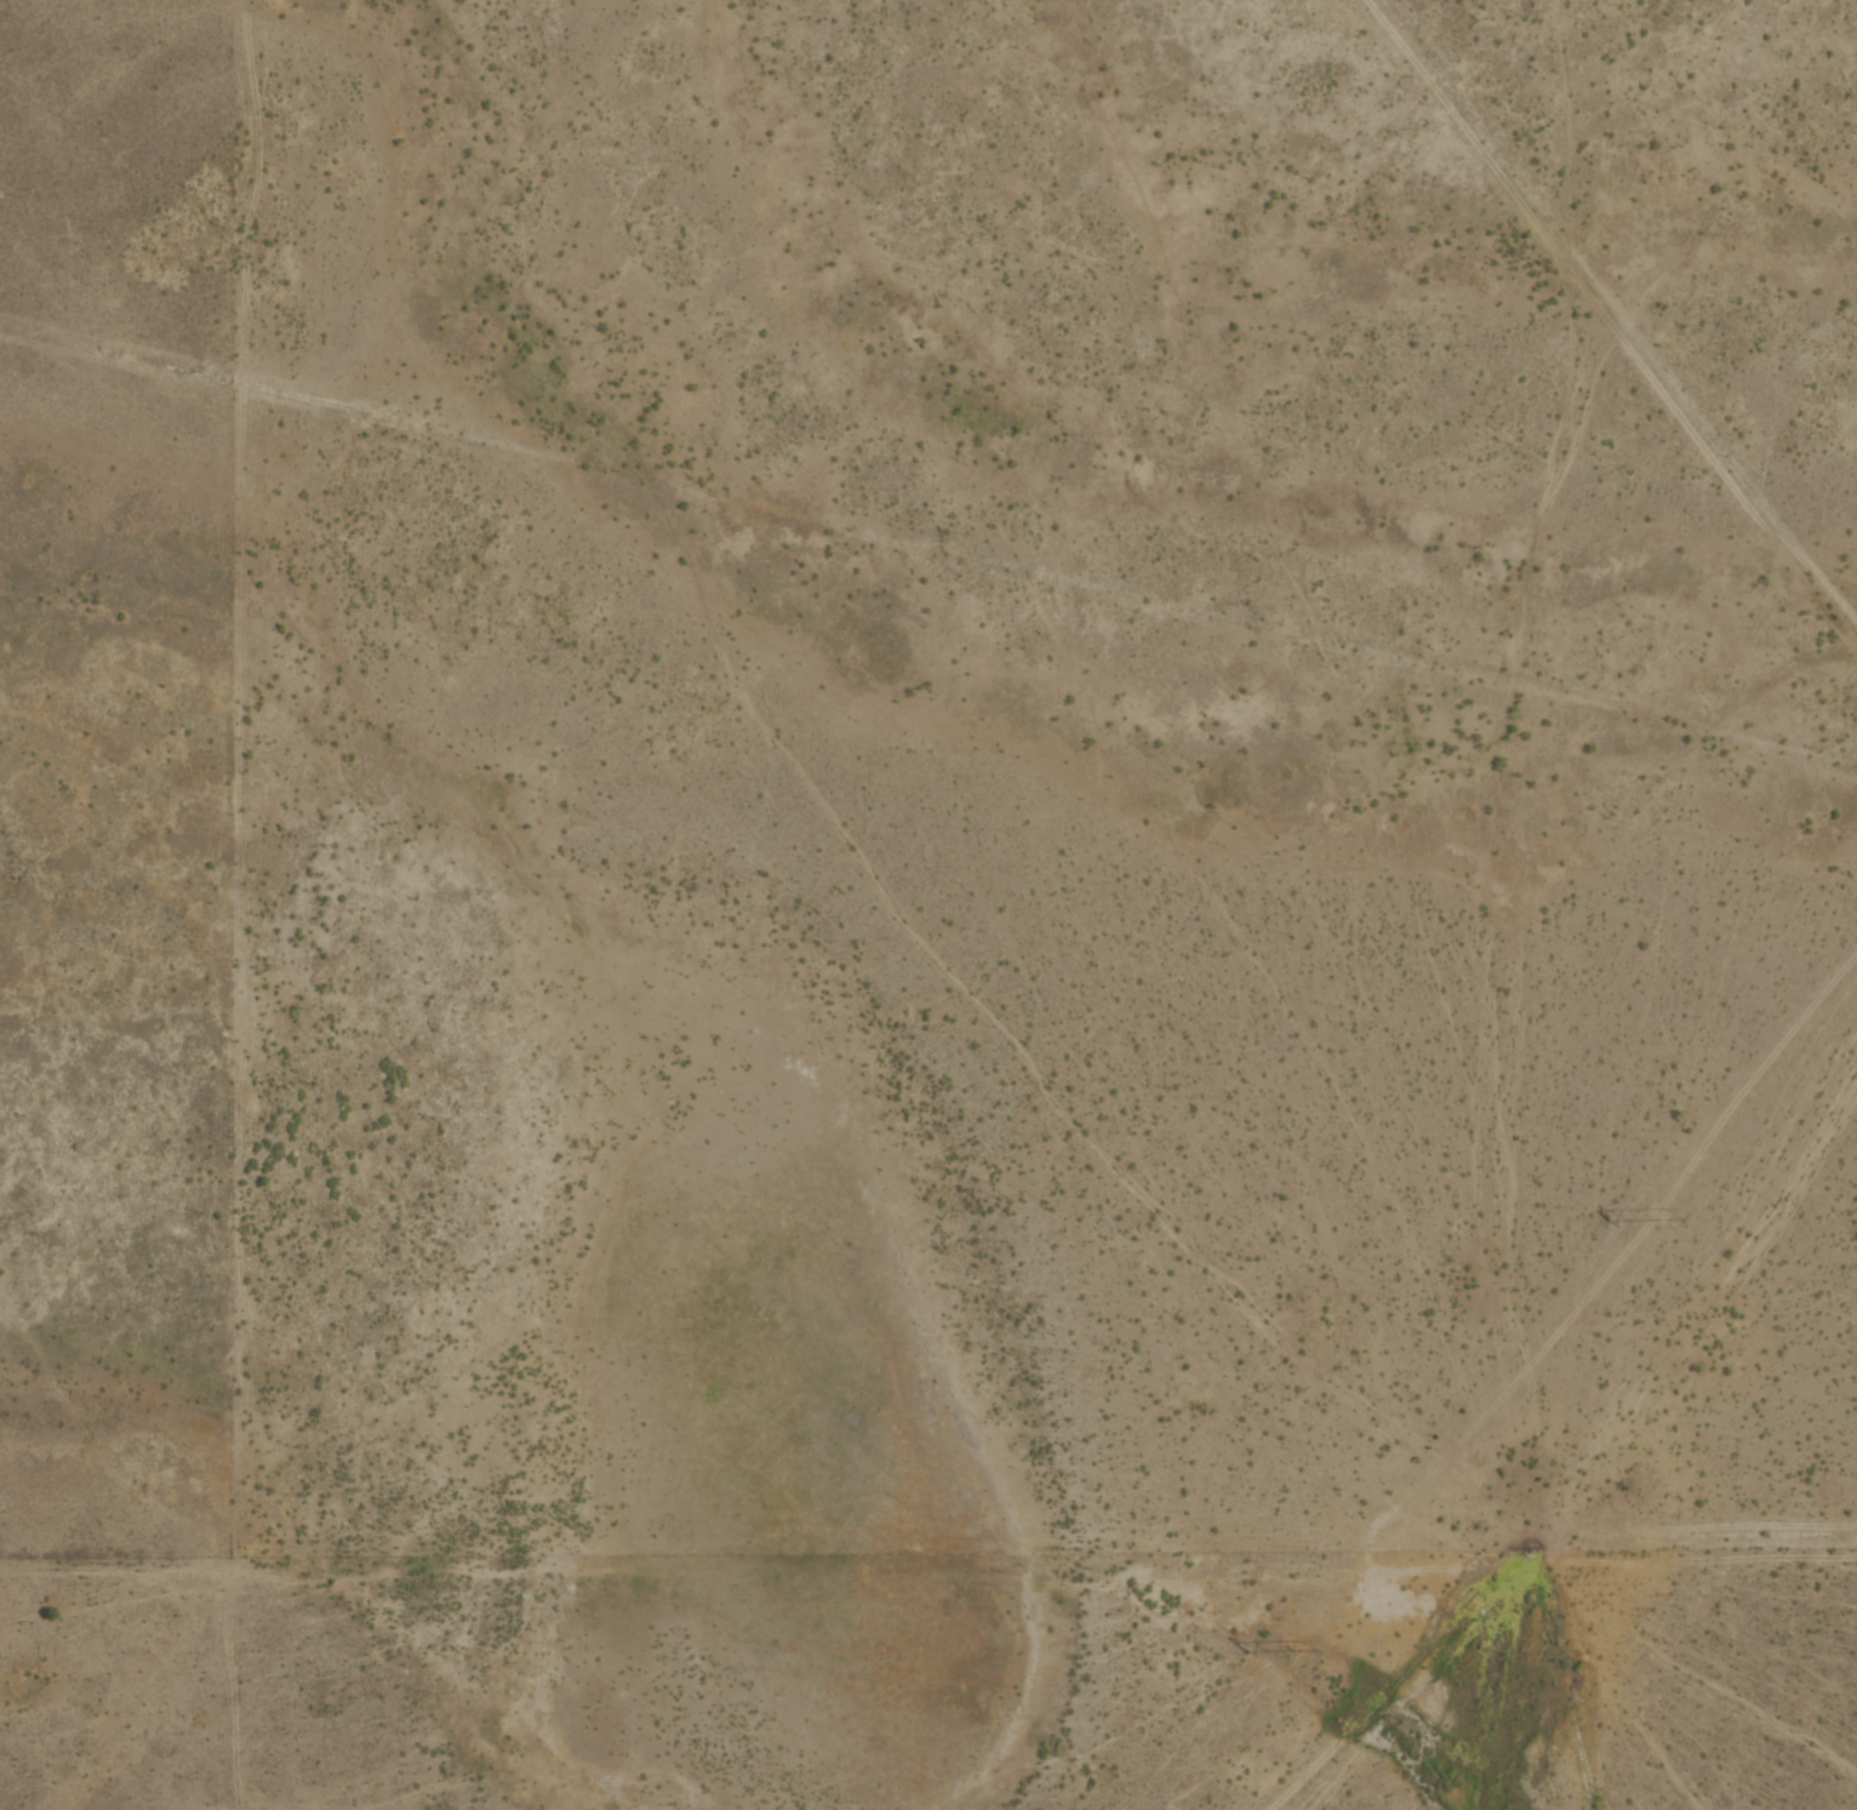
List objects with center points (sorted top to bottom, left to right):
power tower: (1659, 1215)
power tower: (1287, 1649)

